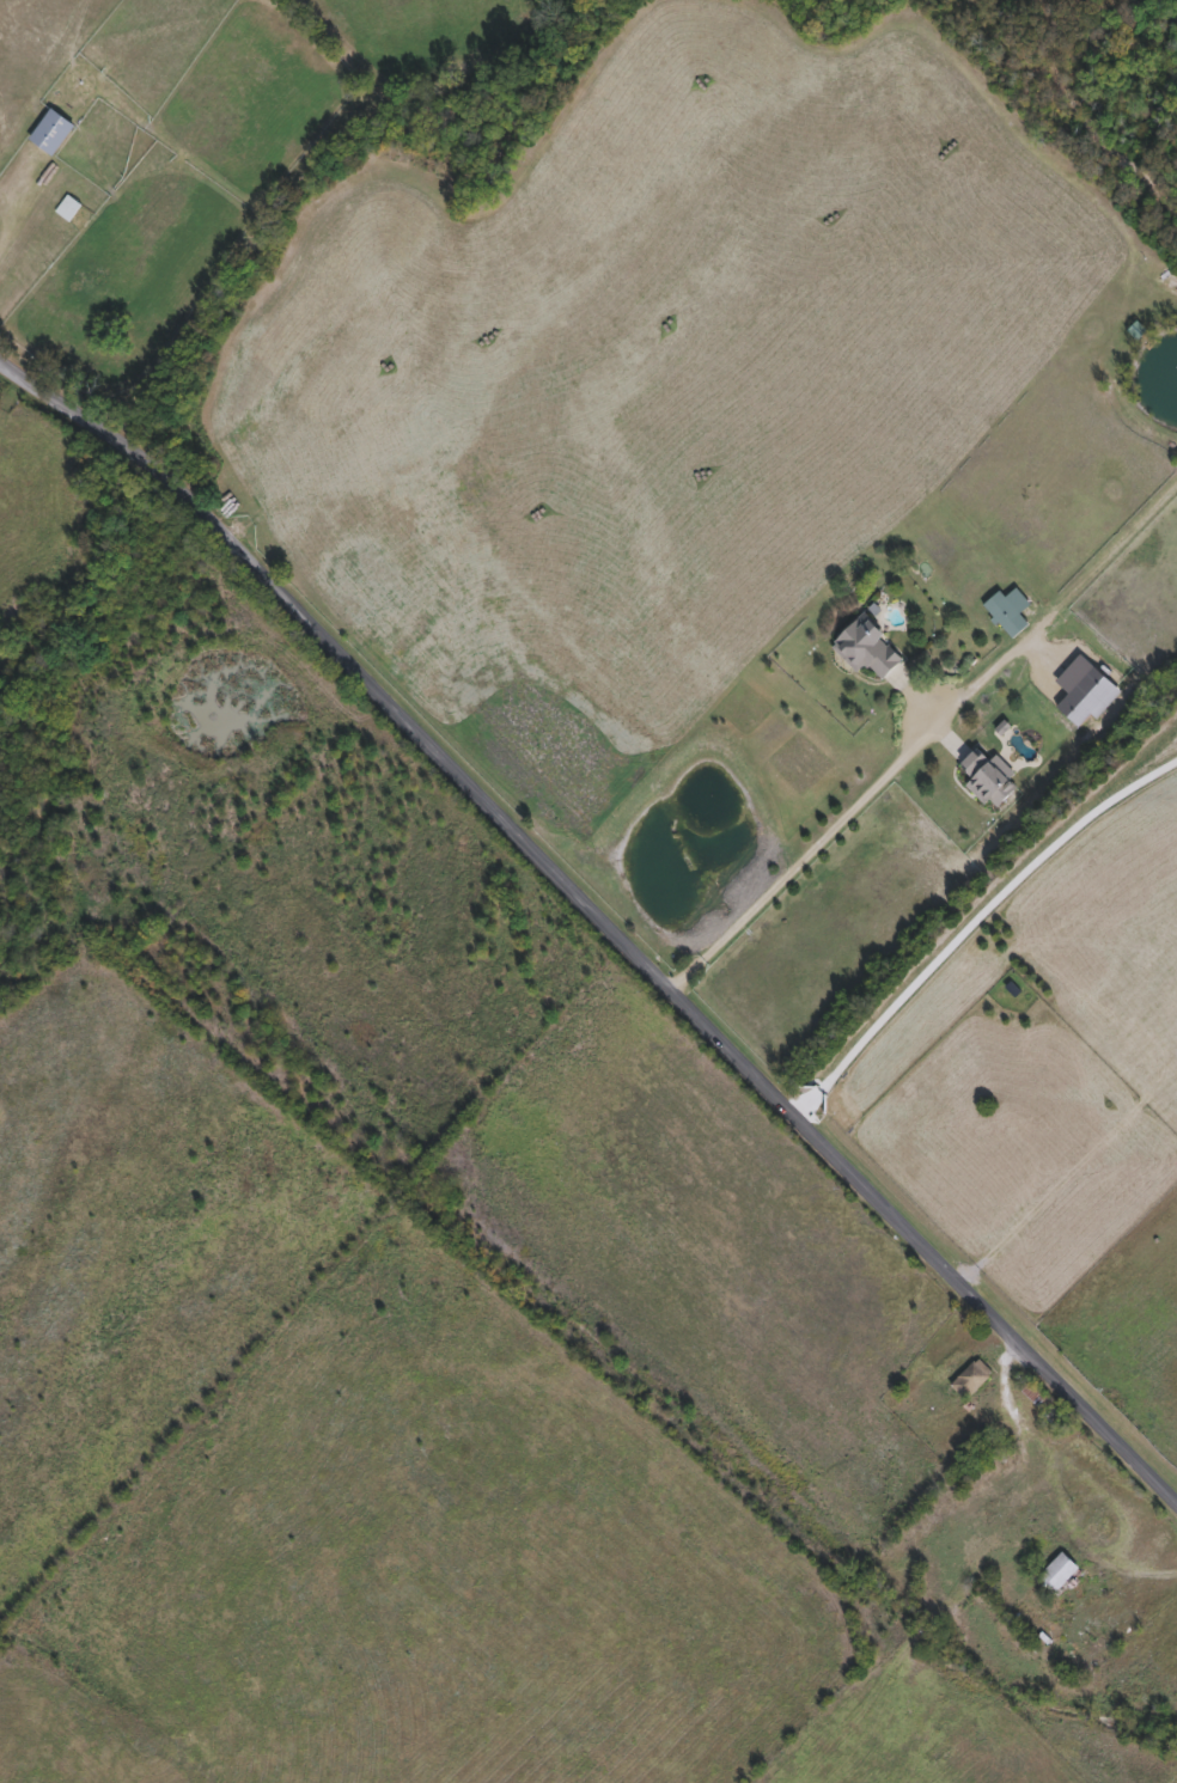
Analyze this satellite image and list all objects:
building: (53, 134)
building: (69, 210)
road: (1128, 396)
building: (867, 651)
road: (921, 738)
building: (990, 780)
road: (599, 920)
road: (971, 923)
building: (974, 1381)
building: (1059, 1575)

